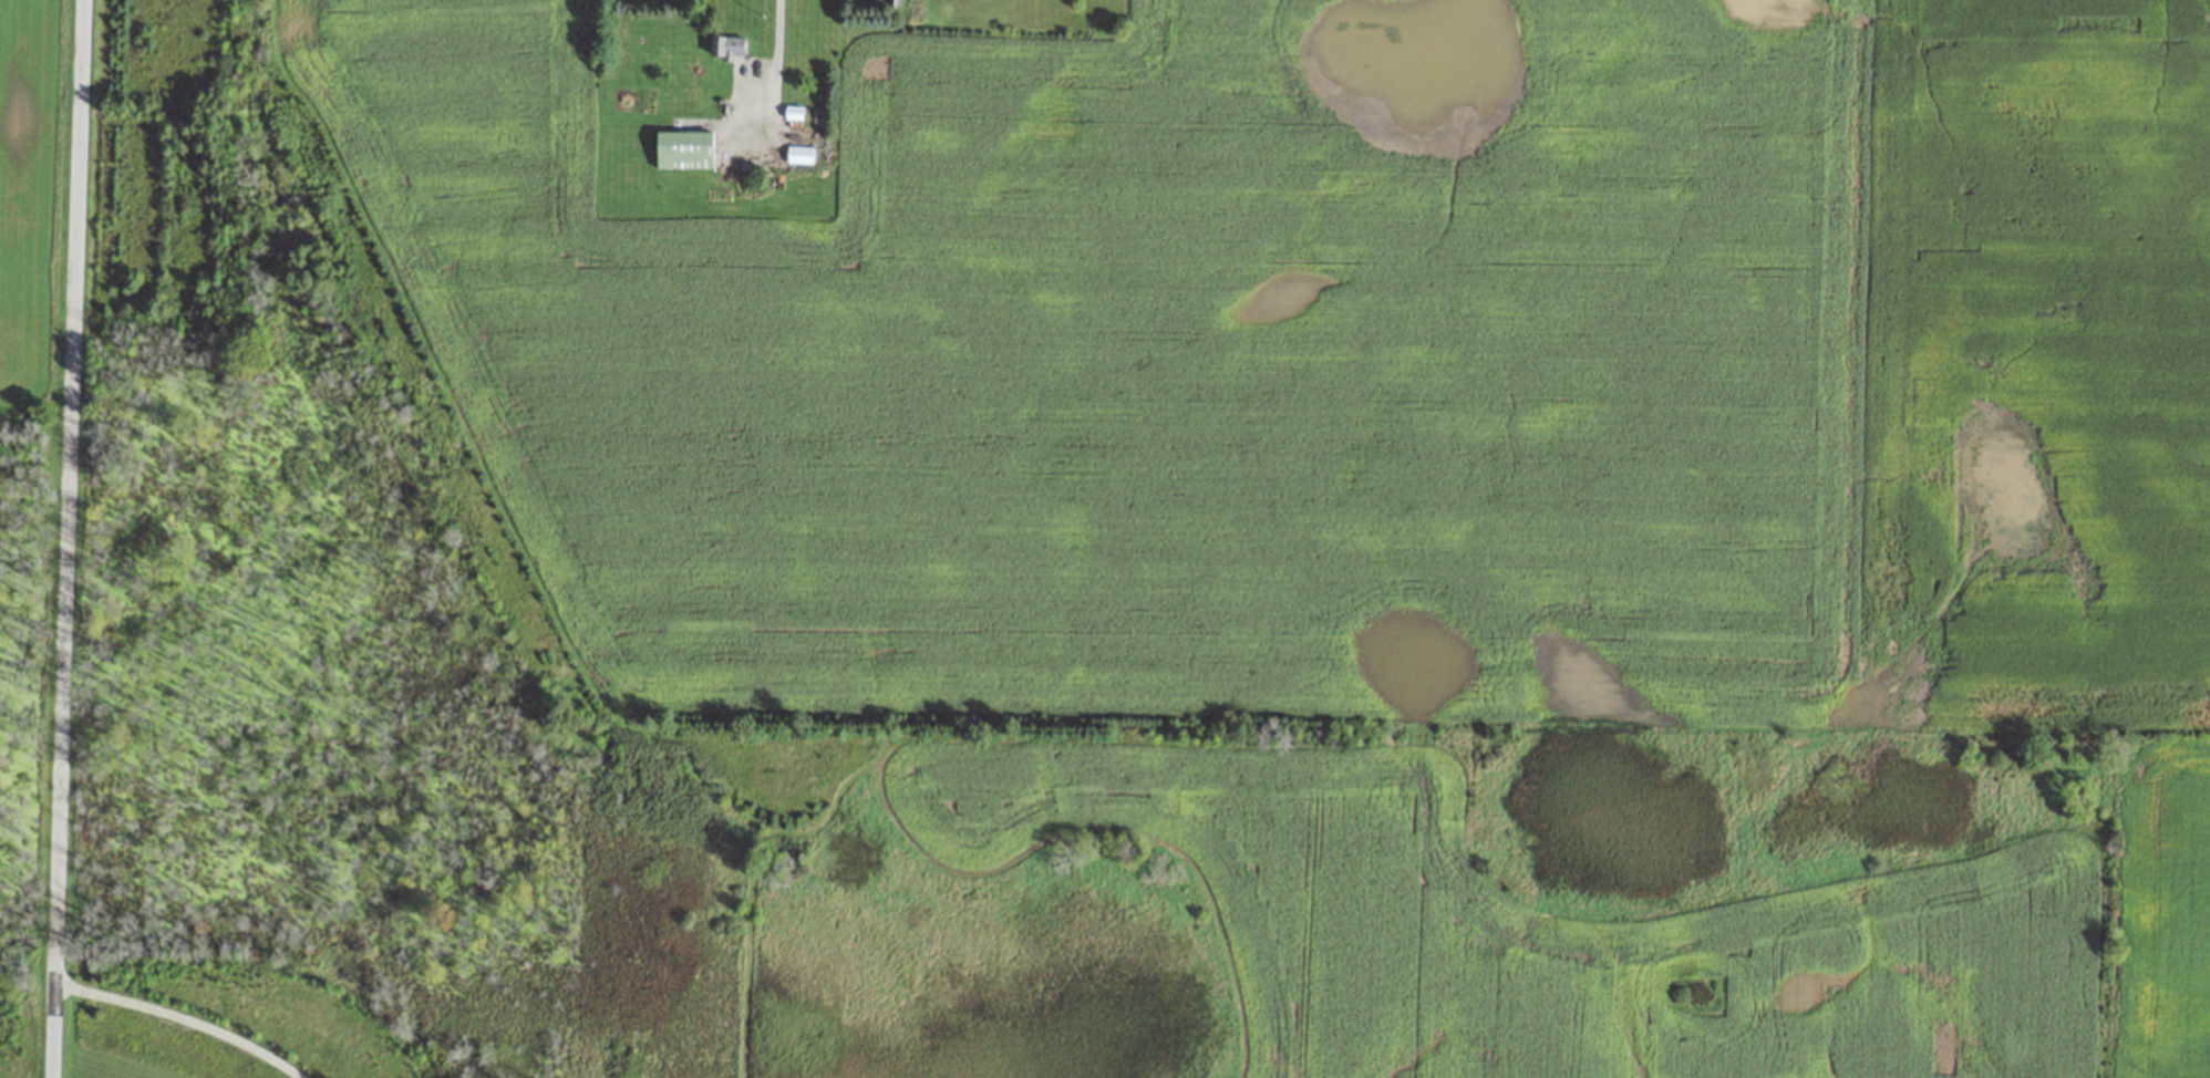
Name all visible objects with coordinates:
building: (727, 43)
road: (773, 64)
building: (684, 148)
road: (66, 538)
road: (182, 1016)

